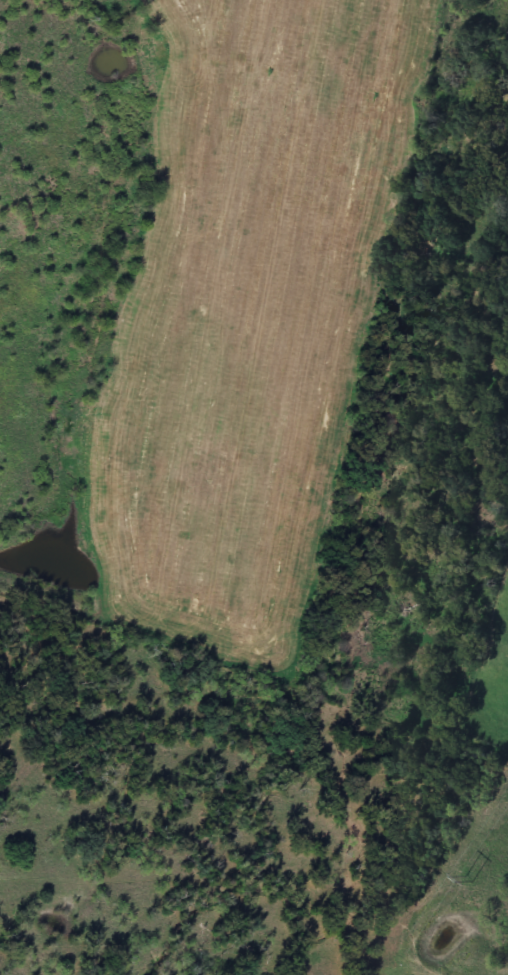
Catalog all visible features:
power tower: (466, 876)

